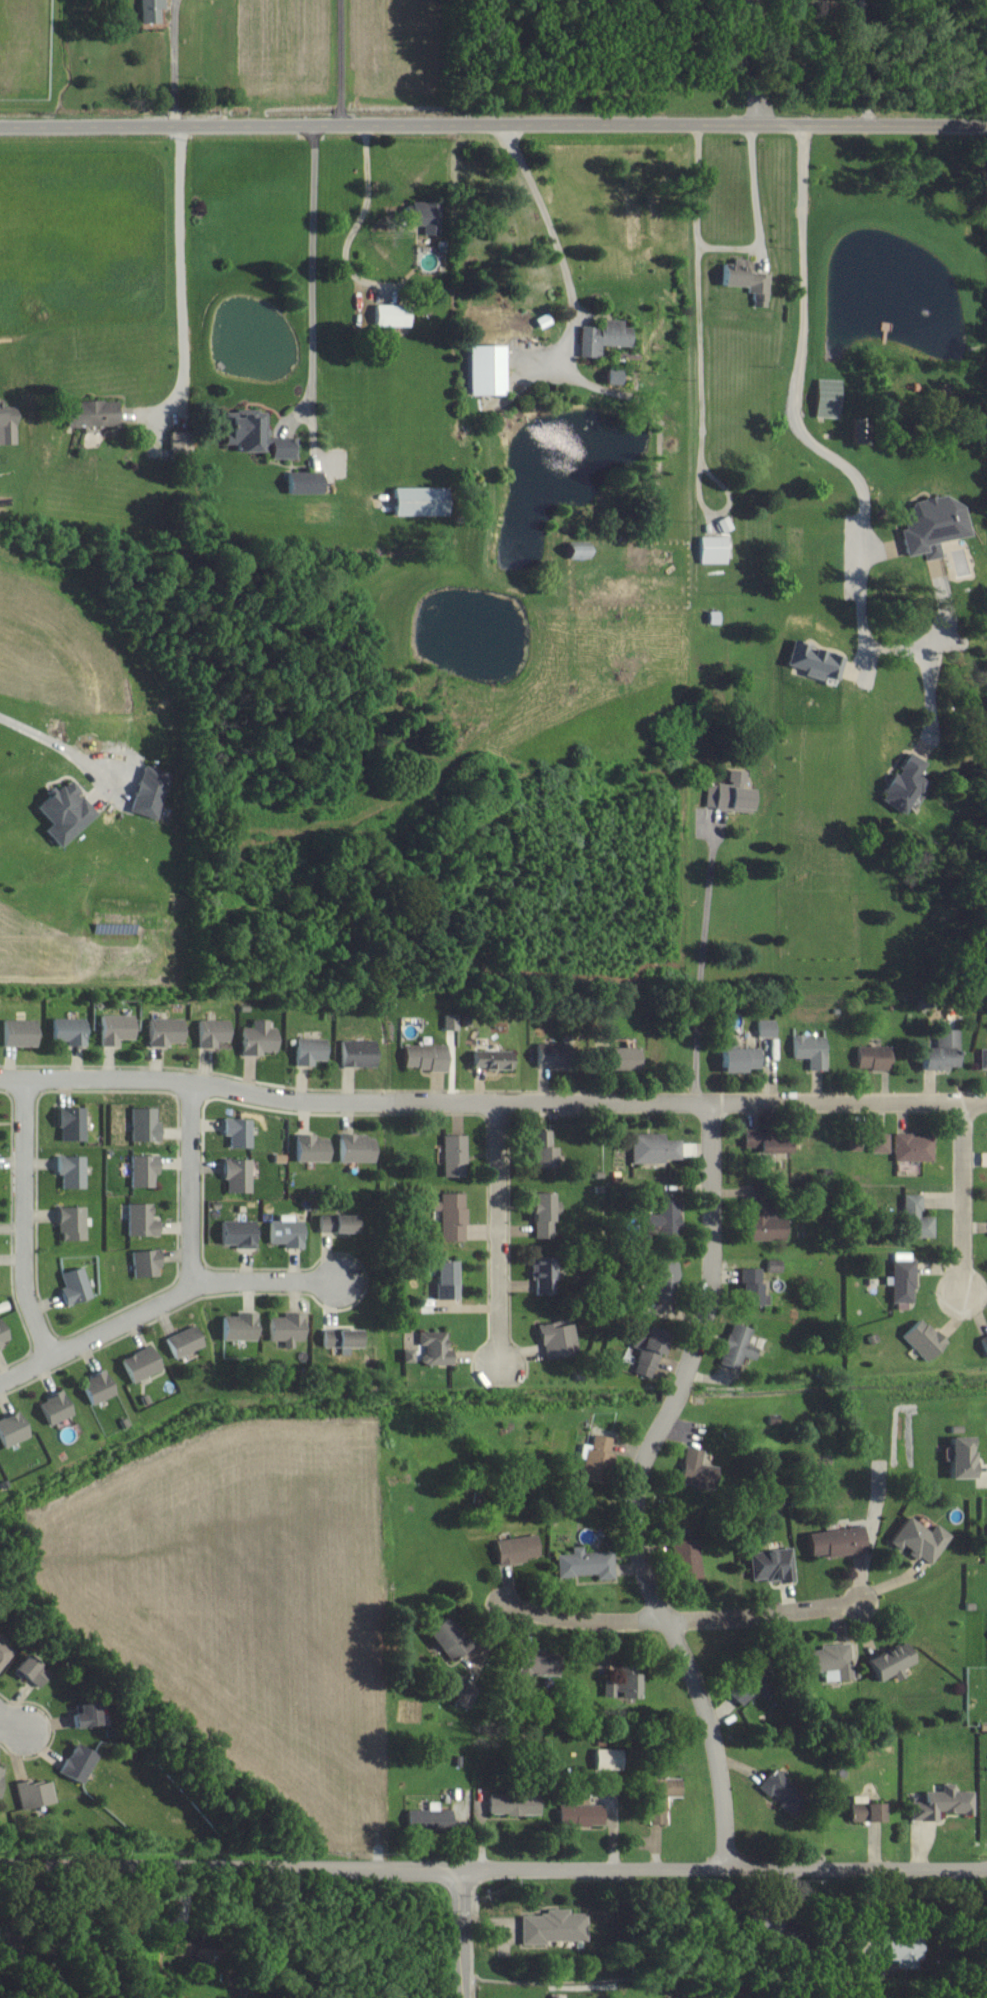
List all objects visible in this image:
building: (151, 10)
road: (742, 62)
road: (860, 62)
road: (173, 63)
road: (338, 63)
road: (493, 125)
building: (425, 216)
road: (753, 222)
road: (357, 224)
road: (554, 254)
building: (743, 280)
road: (311, 284)
road: (178, 286)
building: (392, 315)
building: (602, 337)
road: (698, 362)
building: (485, 370)
building: (827, 398)
building: (89, 413)
building: (7, 425)
building: (859, 432)
building: (255, 436)
building: (178, 442)
road: (832, 465)
building: (304, 482)
building: (418, 501)
building: (931, 526)
building: (711, 549)
building: (813, 663)
road: (62, 753)
building: (901, 784)
building: (148, 792)
building: (731, 793)
building: (63, 812)
road: (698, 962)
building: (451, 1021)
building: (766, 1027)
building: (117, 1028)
building: (69, 1030)
building: (165, 1031)
building: (19, 1032)
building: (212, 1032)
building: (258, 1037)
building: (309, 1050)
building: (810, 1050)
building: (940, 1050)
building: (355, 1053)
building: (547, 1055)
building: (425, 1056)
building: (738, 1056)
building: (872, 1057)
building: (619, 1058)
building: (983, 1058)
building: (491, 1059)
road: (355, 1101)
road: (850, 1102)
building: (70, 1122)
building: (143, 1124)
building: (237, 1131)
building: (766, 1141)
building: (879, 1143)
building: (654, 1147)
building: (913, 1147)
building: (311, 1148)
building: (355, 1148)
building: (539, 1148)
building: (453, 1155)
building: (143, 1169)
building: (70, 1170)
building: (237, 1174)
road: (192, 1182)
road: (963, 1199)
building: (540, 1213)
building: (451, 1215)
road: (26, 1218)
building: (915, 1218)
building: (141, 1220)
building: (667, 1220)
building: (70, 1222)
building: (336, 1223)
building: (764, 1224)
building: (286, 1232)
building: (237, 1233)
road: (499, 1235)
building: (145, 1262)
building: (773, 1265)
building: (661, 1272)
building: (541, 1275)
building: (901, 1277)
building: (444, 1279)
road: (266, 1280)
building: (73, 1284)
building: (748, 1286)
building: (286, 1326)
building: (237, 1327)
road: (98, 1332)
building: (3, 1334)
building: (338, 1337)
building: (922, 1338)
building: (557, 1339)
building: (184, 1341)
building: (983, 1342)
building: (736, 1346)
building: (434, 1347)
building: (646, 1348)
building: (407, 1355)
building: (140, 1363)
building: (97, 1387)
building: (55, 1407)
building: (12, 1428)
building: (960, 1457)
building: (596, 1460)
building: (697, 1469)
road: (638, 1484)
building: (919, 1539)
building: (836, 1541)
building: (516, 1549)
building: (688, 1558)
building: (585, 1564)
building: (769, 1565)
road: (683, 1619)
building: (445, 1638)
building: (4, 1653)
building: (832, 1660)
building: (891, 1661)
building: (532, 1664)
building: (29, 1670)
building: (626, 1685)
building: (746, 1685)
building: (464, 1695)
building: (83, 1715)
road: (5, 1721)
road: (13, 1729)
building: (607, 1758)
building: (77, 1762)
building: (0, 1781)
building: (781, 1793)
building: (33, 1794)
building: (660, 1797)
building: (940, 1803)
building: (513, 1804)
building: (864, 1810)
building: (581, 1814)
building: (429, 1819)
road: (493, 1867)
building: (762, 1923)
building: (554, 1927)
road: (464, 1933)
building: (899, 1949)
building: (185, 1951)

